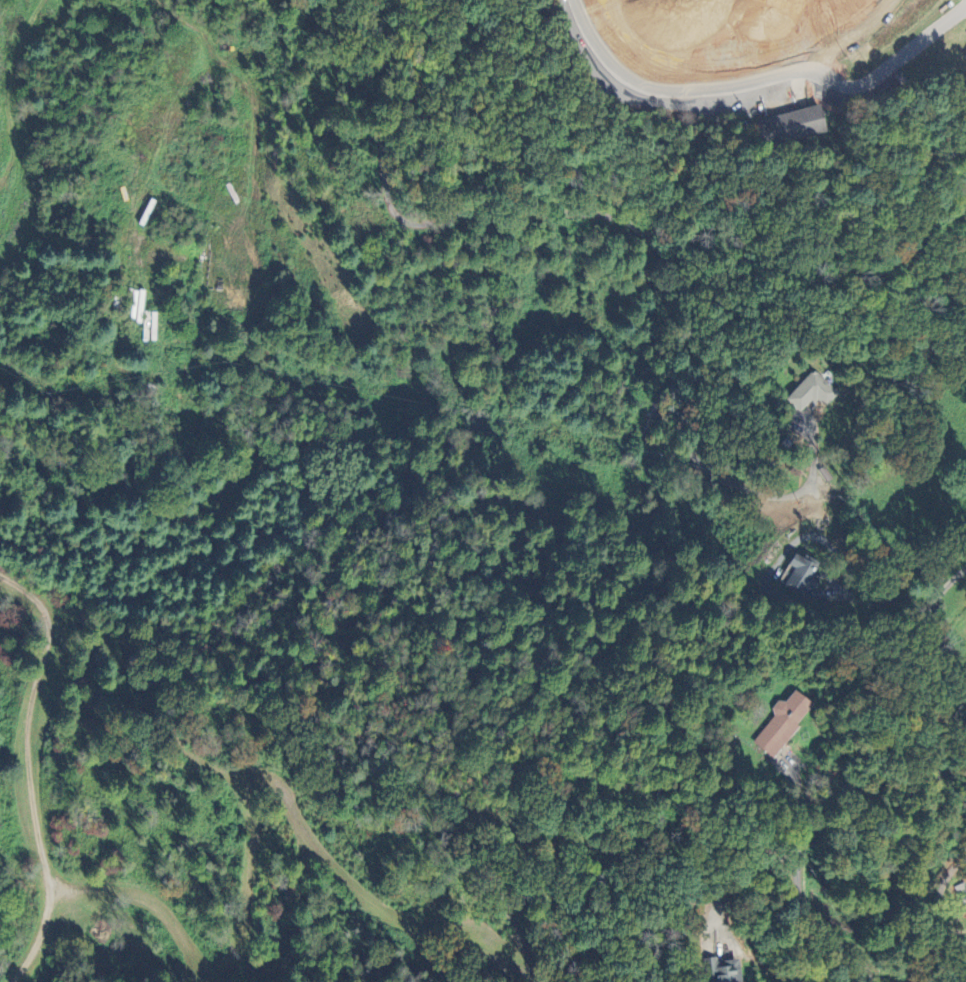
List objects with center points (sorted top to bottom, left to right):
road: (840, 38)
building: (965, 54)
road: (889, 65)
road: (668, 77)
building: (790, 124)
road: (603, 212)
building: (811, 390)
road: (788, 547)
building: (803, 574)
road: (932, 699)
building: (782, 722)
road: (28, 770)
road: (738, 874)
road: (799, 883)
building: (964, 898)
road: (932, 913)
building: (723, 970)

